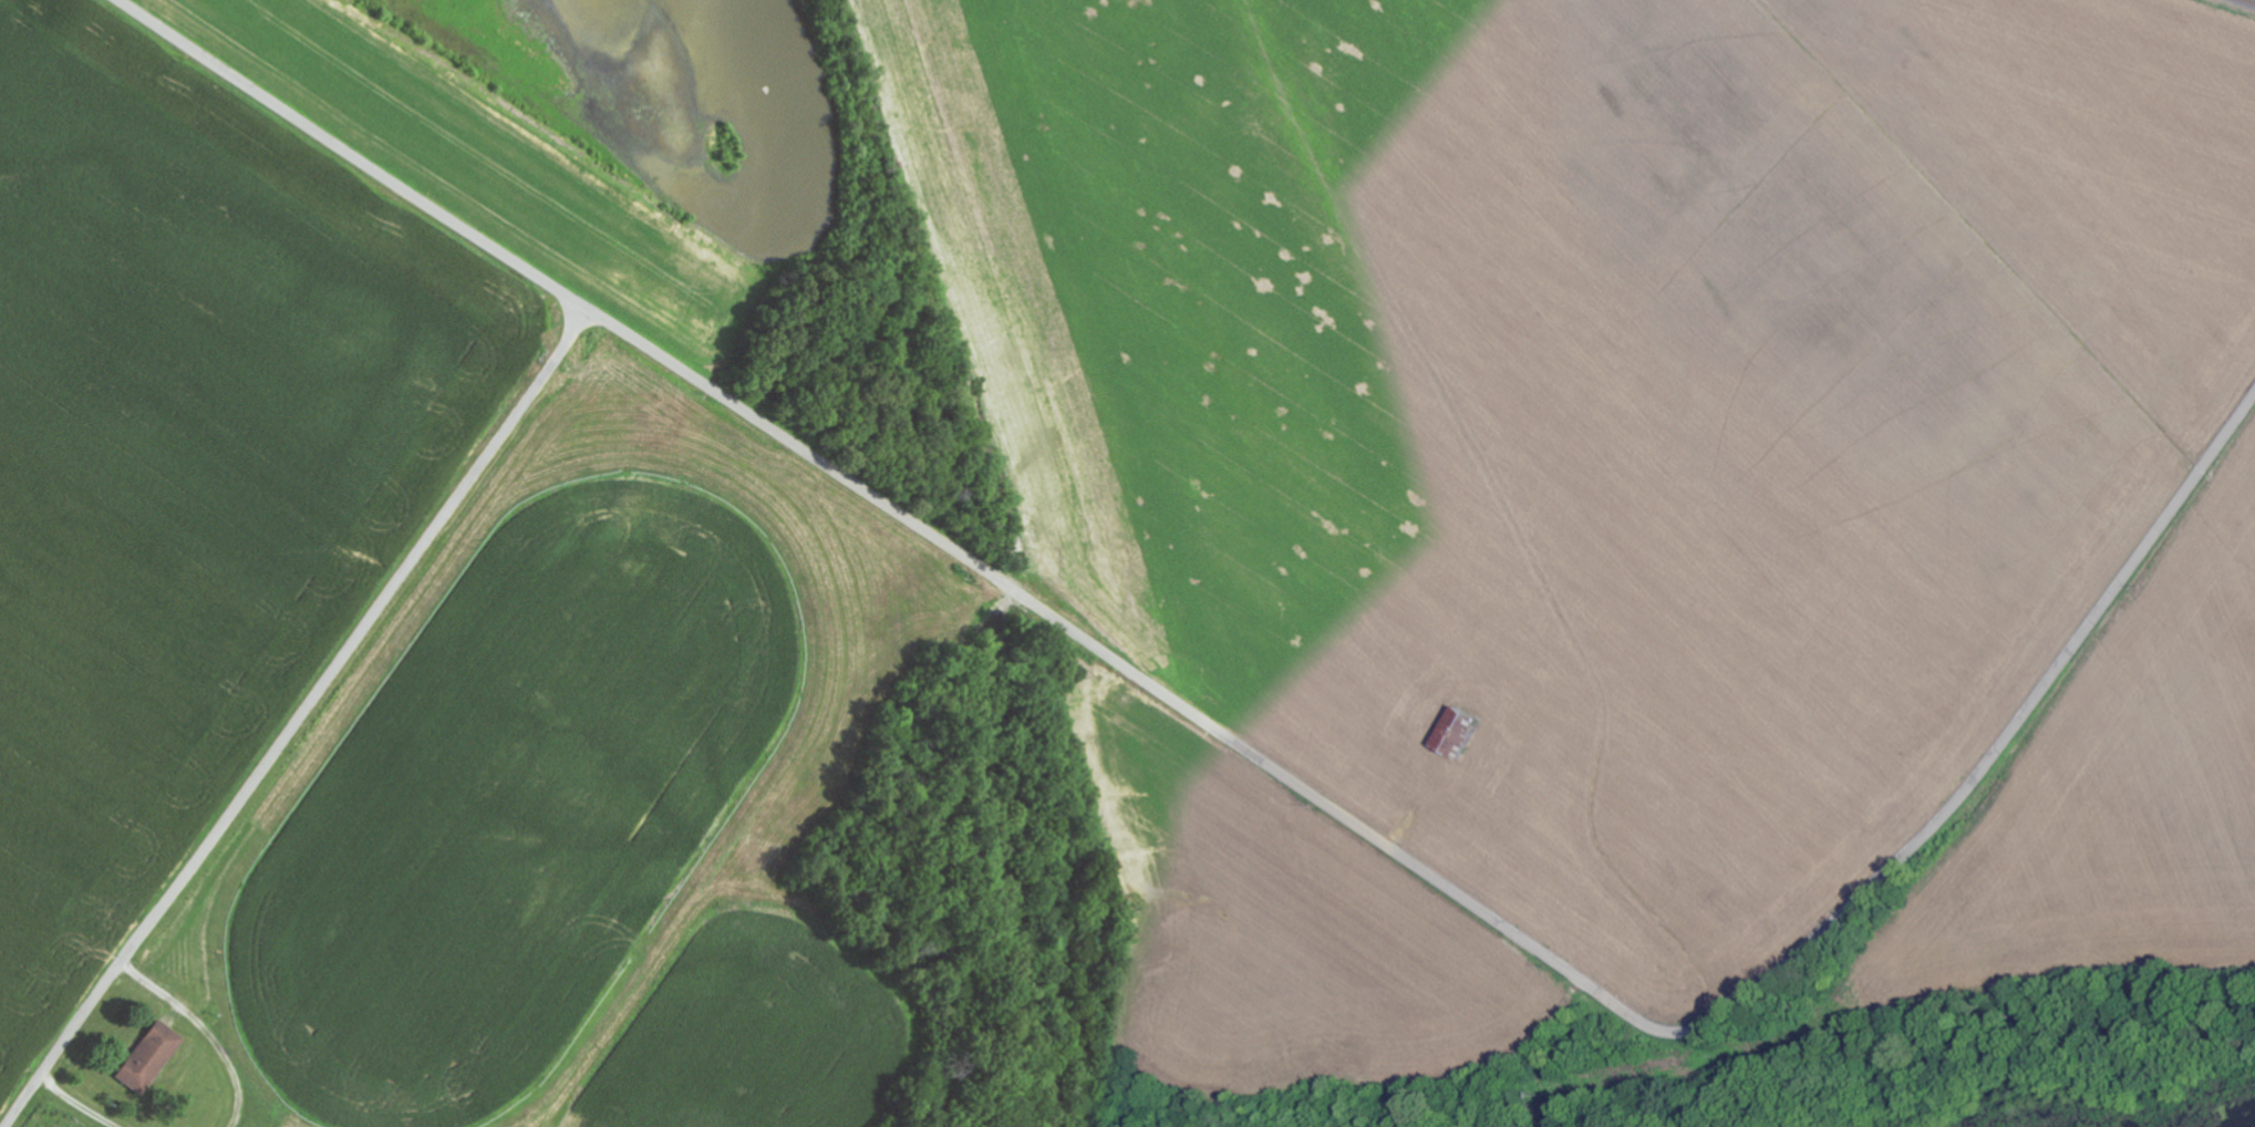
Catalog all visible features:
railway: (2247, 2)
road: (301, 718)
building: (1466, 730)
road: (1256, 758)
road: (211, 1028)
building: (152, 1057)
road: (1392, 1078)
road: (82, 1102)

